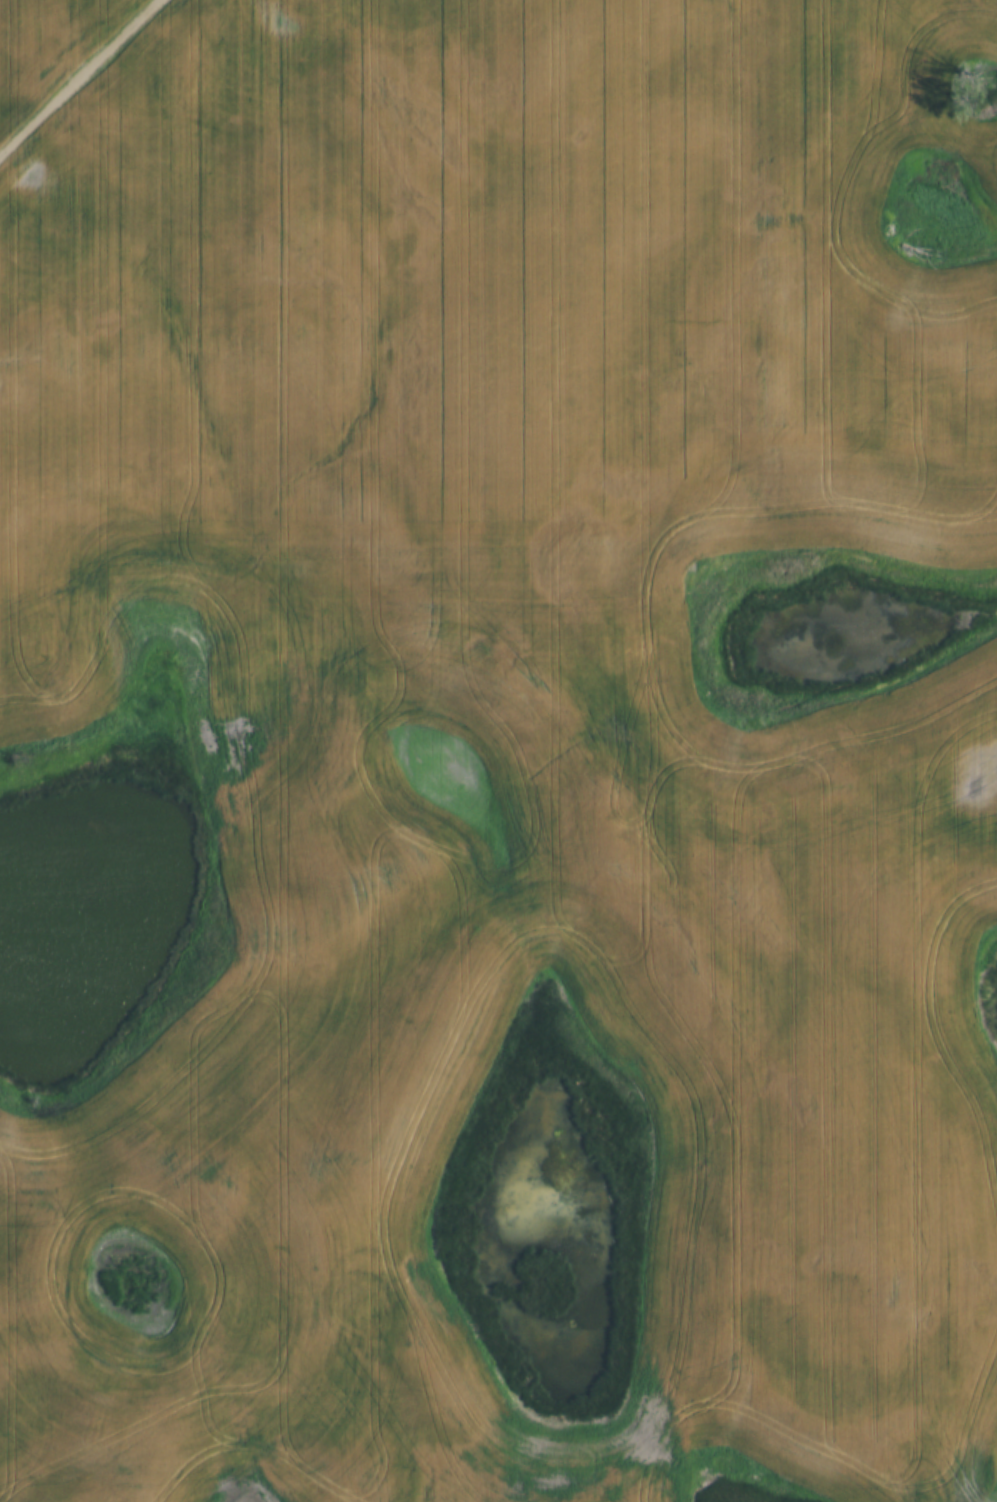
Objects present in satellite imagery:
road: (75, 74)

